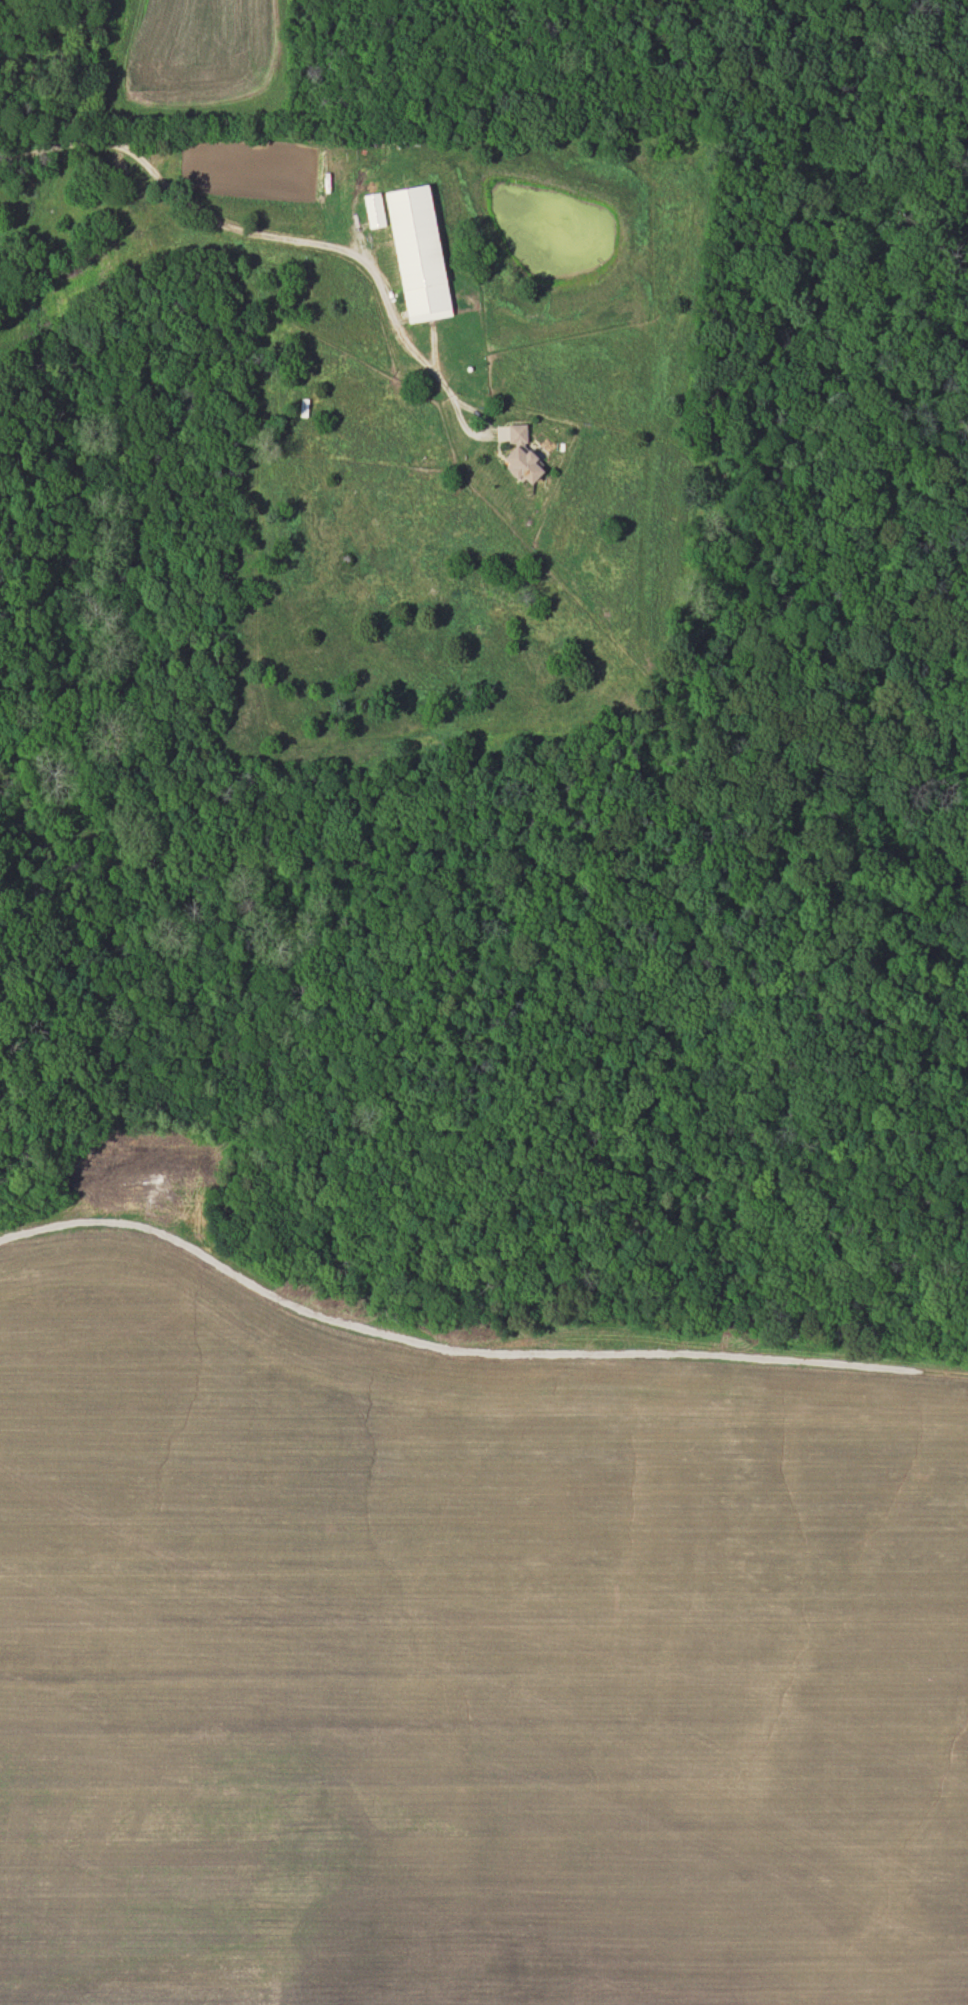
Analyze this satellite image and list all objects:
building: (371, 210)
road: (251, 231)
building: (414, 253)
building: (300, 406)
building: (517, 454)

